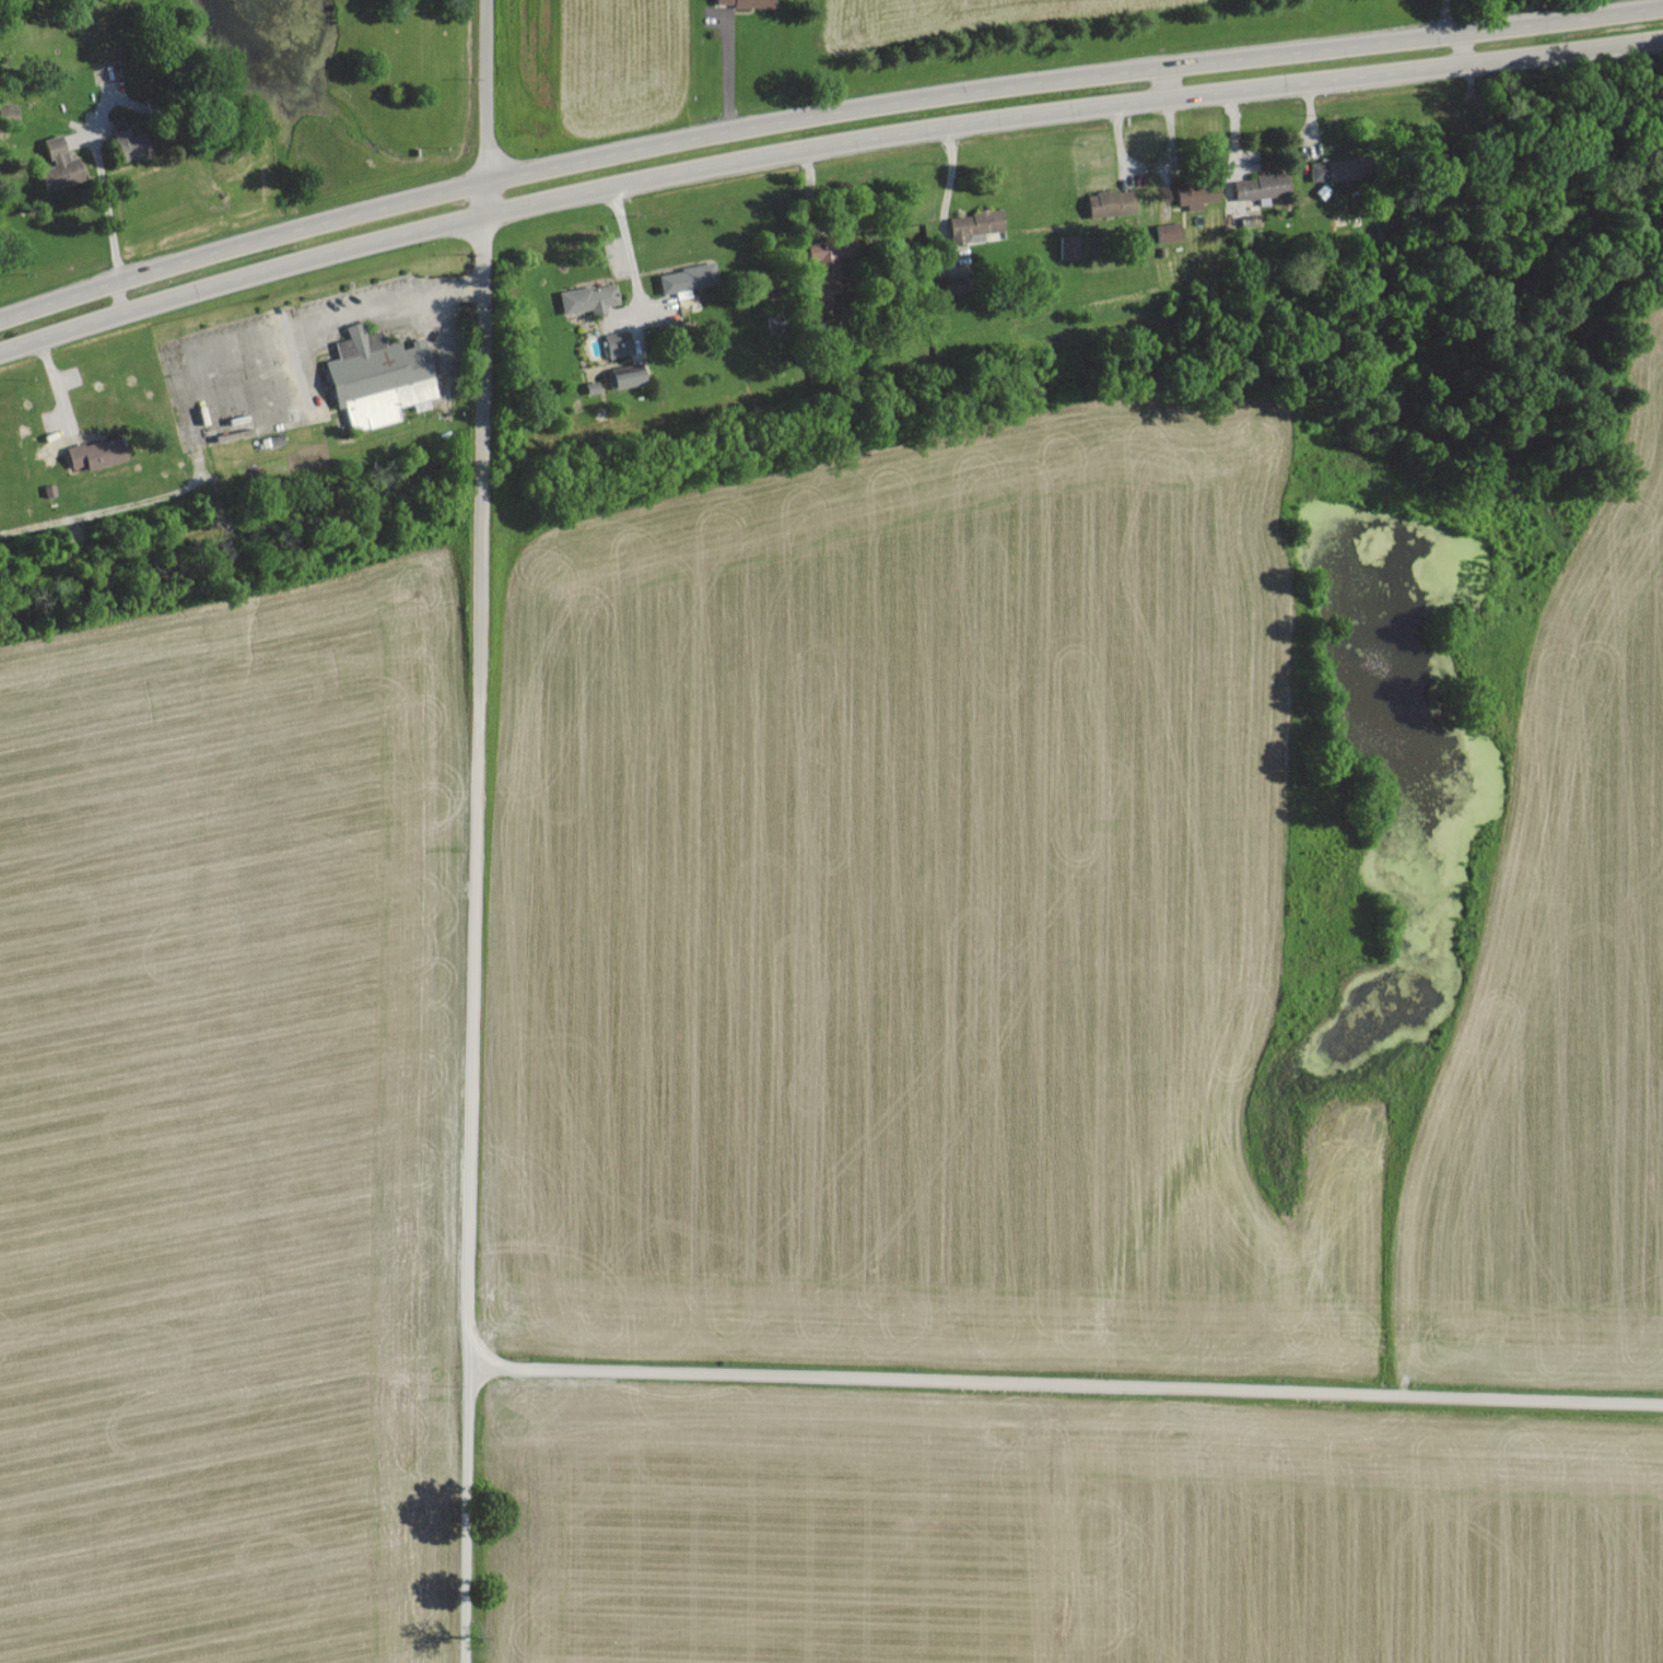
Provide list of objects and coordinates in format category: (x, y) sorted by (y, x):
building: (747, 1)
road: (1452, 15)
road: (1459, 46)
road: (730, 65)
road: (1163, 80)
road: (822, 115)
building: (129, 139)
road: (822, 144)
building: (61, 164)
building: (1335, 167)
building: (1262, 185)
road: (950, 192)
building: (1196, 194)
building: (1112, 201)
road: (113, 211)
building: (975, 224)
building: (1170, 231)
building: (1069, 246)
road: (634, 253)
building: (833, 269)
building: (688, 277)
building: (589, 297)
road: (339, 314)
building: (619, 342)
building: (626, 375)
building: (380, 376)
building: (95, 452)
road: (477, 831)
road: (1065, 1382)

